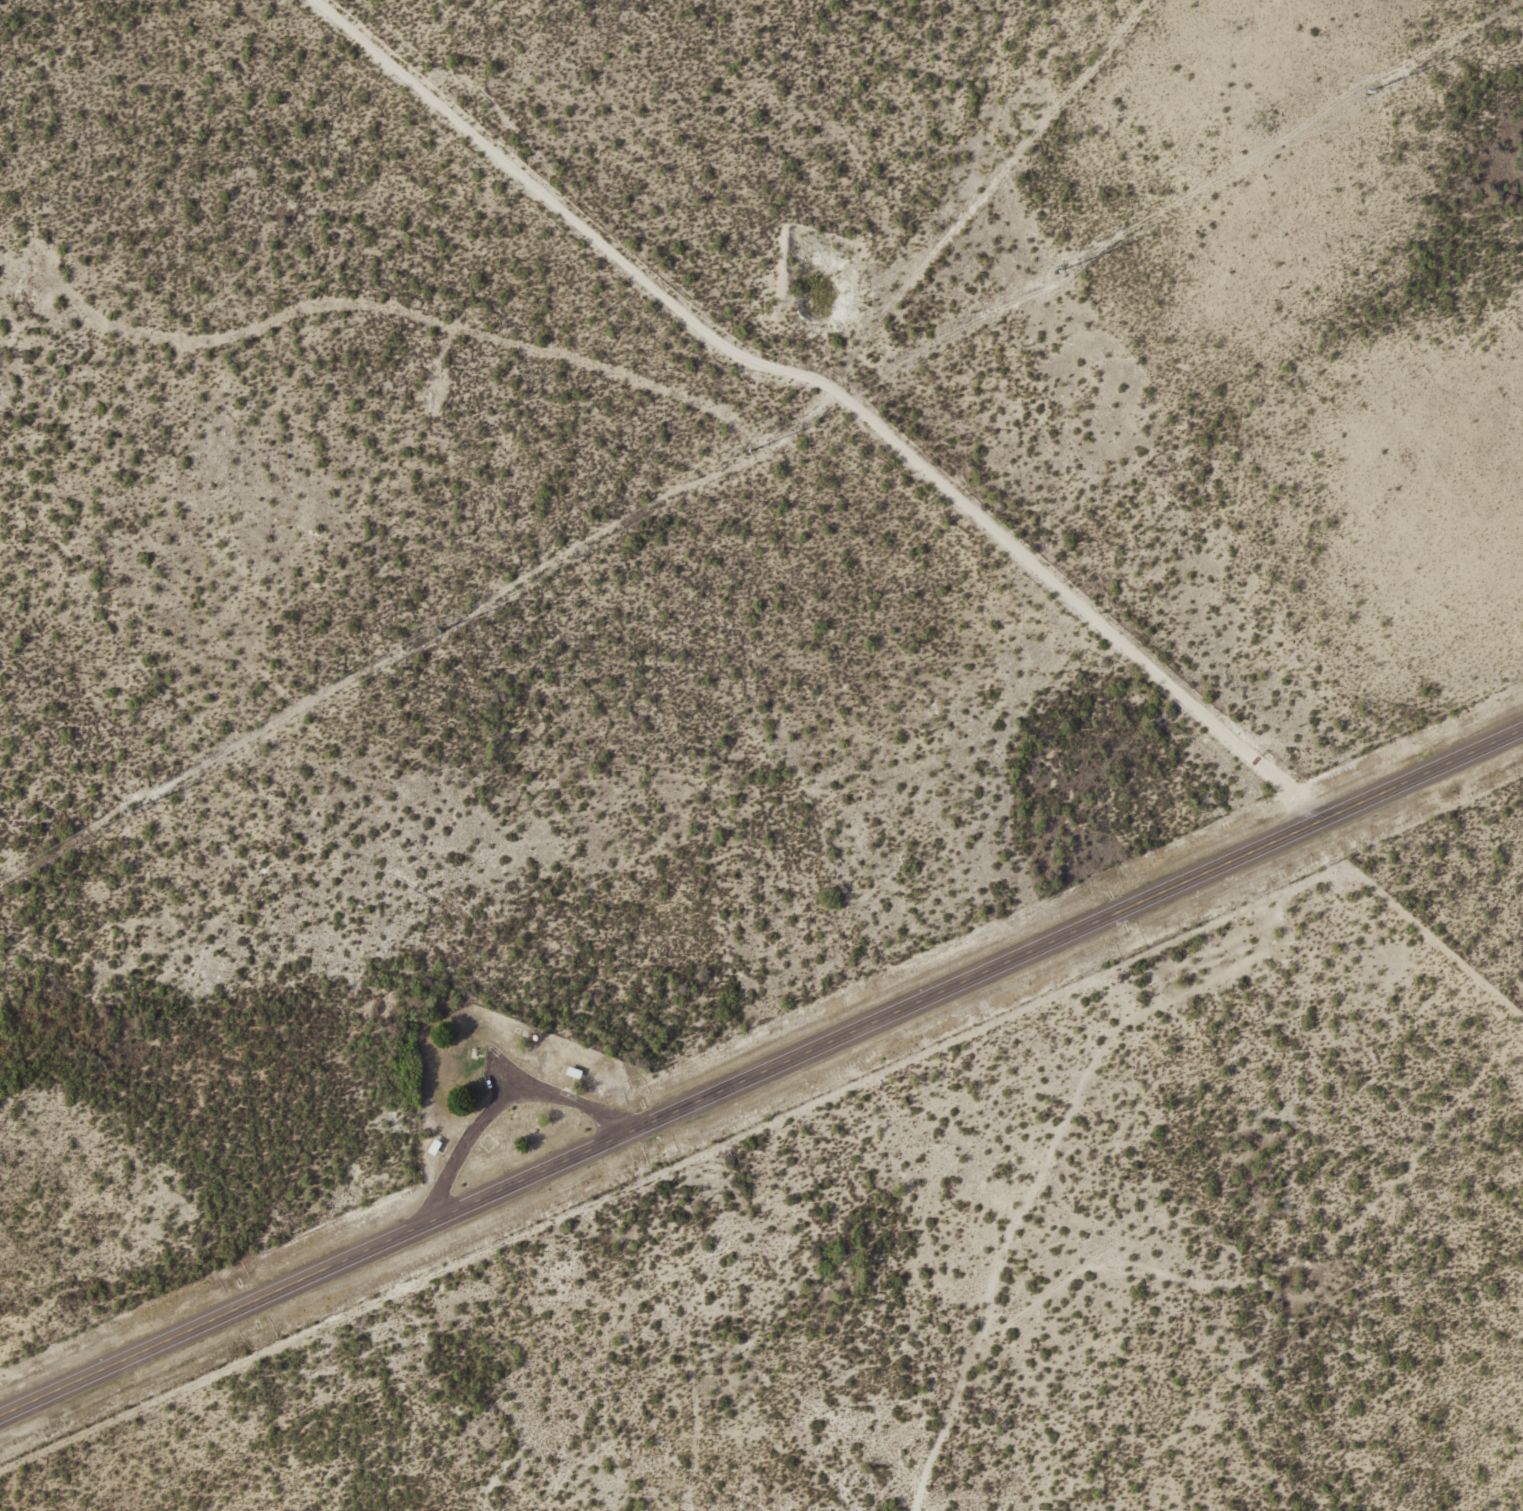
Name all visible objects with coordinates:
power tower: (1369, 91)
power tower: (1061, 267)
power tower: (750, 450)
power tower: (438, 630)
power tower: (130, 811)
road: (454, 1014)
road: (762, 1075)

